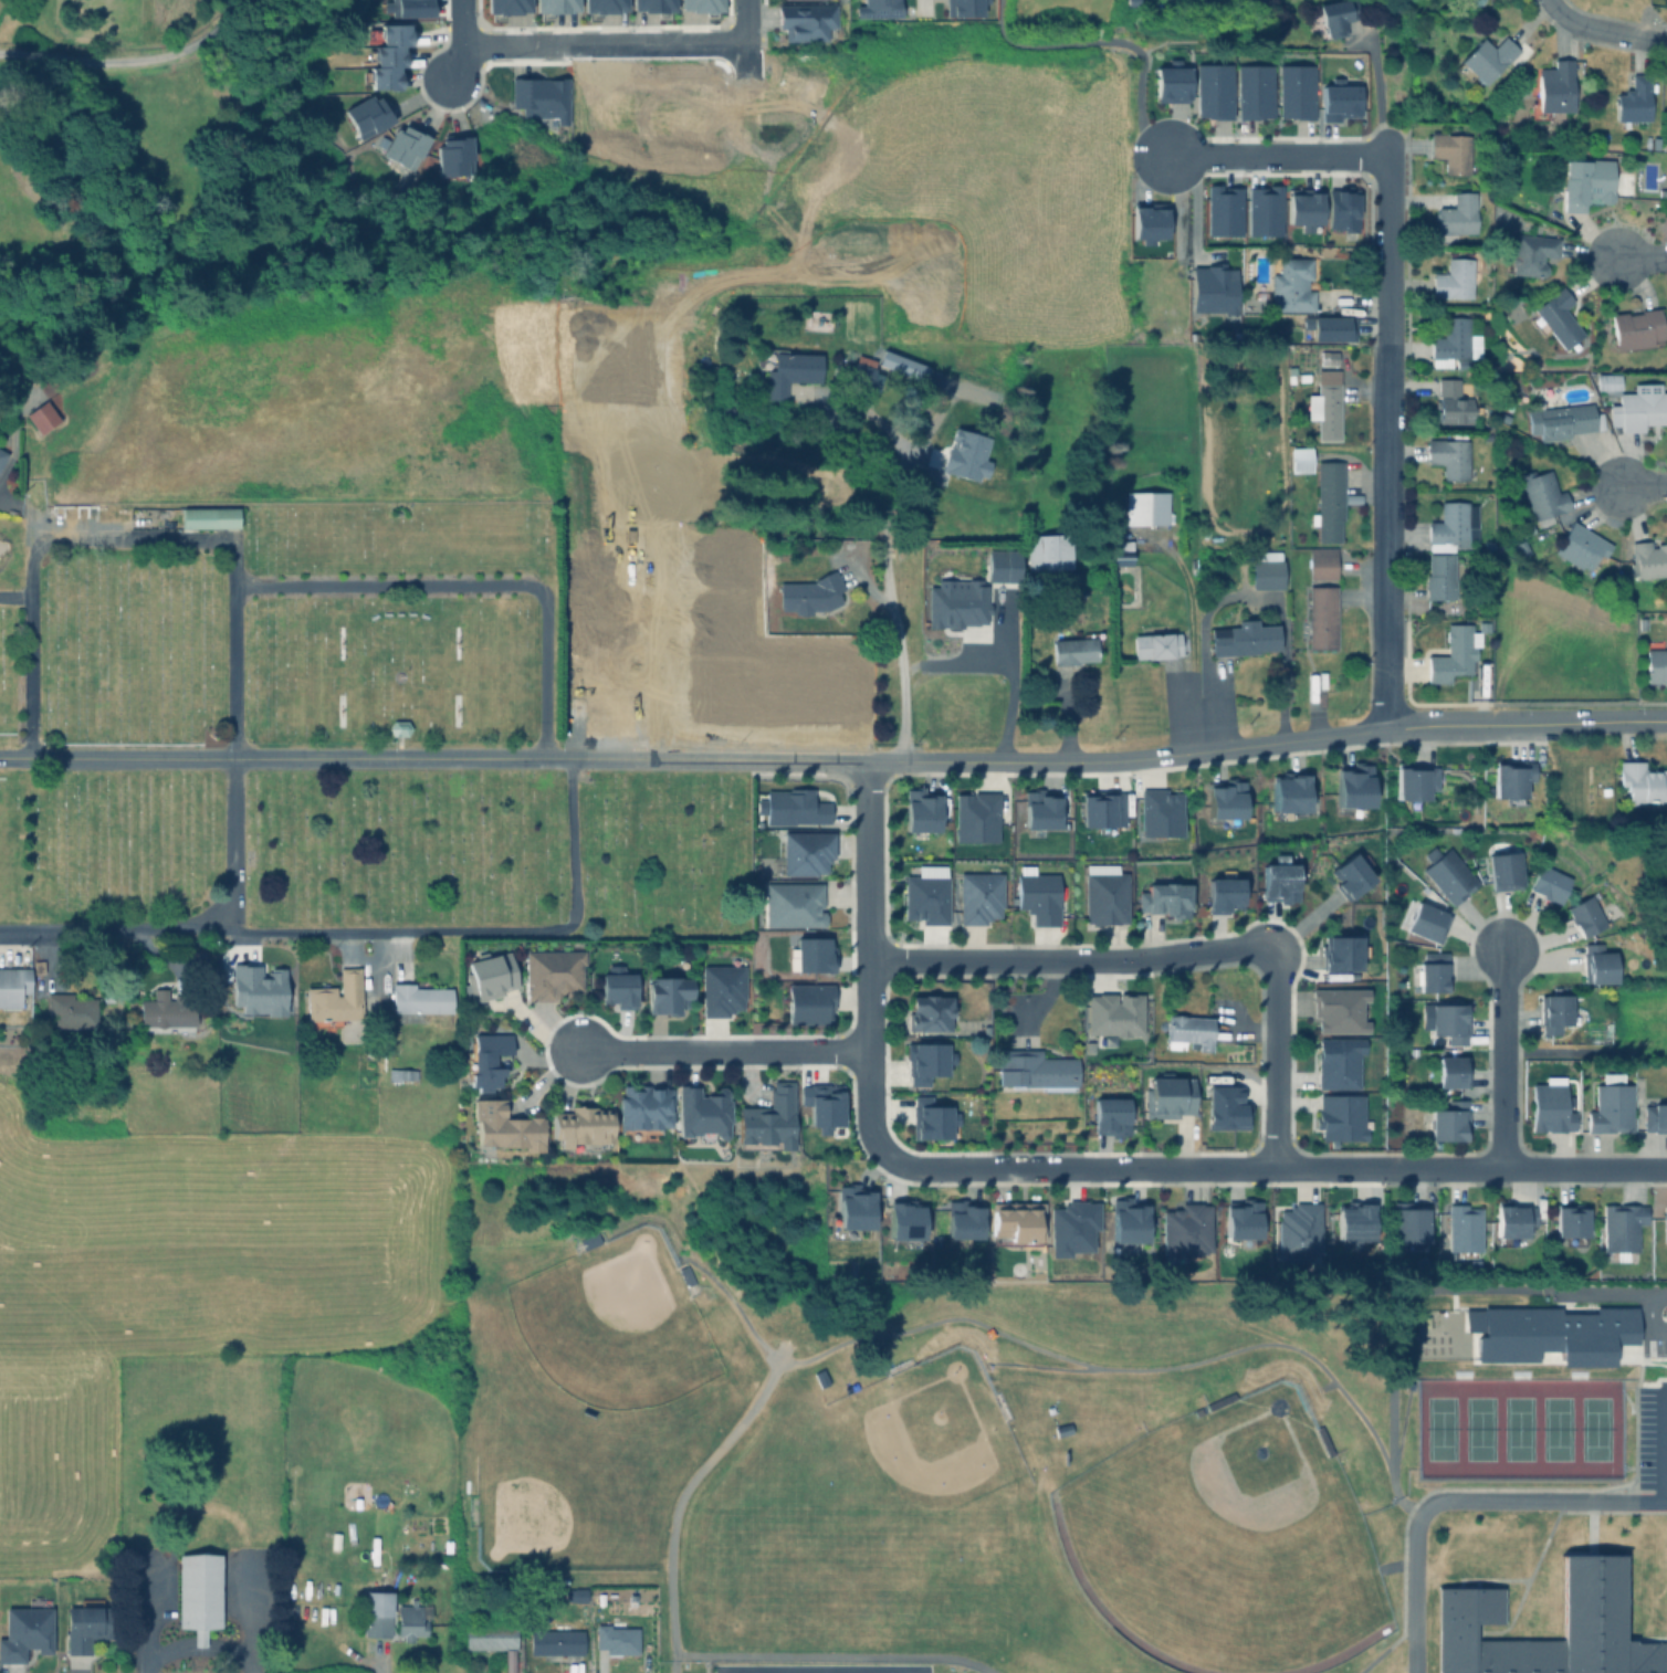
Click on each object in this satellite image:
building: (1131, 1)
road: (922, 2)
road: (1549, 3)
building: (506, 6)
building: (555, 6)
building: (604, 6)
building: (652, 6)
building: (700, 6)
building: (406, 8)
building: (877, 8)
building: (963, 8)
building: (1331, 15)
building: (804, 20)
road: (743, 21)
road: (1606, 31)
building: (397, 34)
road: (1110, 40)
road: (1165, 40)
road: (466, 41)
road: (605, 42)
building: (387, 55)
building: (1482, 57)
road: (134, 62)
building: (382, 76)
building: (1168, 81)
building: (1551, 87)
building: (1210, 90)
building: (1254, 91)
building: (1294, 91)
road: (1377, 95)
building: (538, 97)
building: (1632, 99)
building: (1339, 102)
building: (366, 116)
building: (403, 146)
building: (1451, 151)
building: (453, 156)
road: (1276, 157)
building: (1584, 181)
building: (1302, 206)
building: (1220, 209)
building: (1341, 210)
building: (1262, 211)
building: (1456, 212)
building: (1147, 219)
road: (1387, 251)
building: (1529, 253)
road: (1639, 256)
building: (1453, 278)
building: (1289, 284)
building: (1213, 287)
building: (1554, 316)
building: (1328, 327)
building: (1635, 327)
building: (1453, 343)
building: (1328, 357)
building: (858, 369)
building: (786, 370)
building: (1605, 380)
building: (1453, 401)
building: (1323, 403)
building: (1637, 407)
building: (43, 415)
building: (1559, 420)
building: (1448, 454)
building: (2, 455)
building: (967, 456)
building: (1298, 459)
road: (1643, 485)
road: (609, 487)
building: (1540, 495)
building: (1327, 499)
building: (1144, 507)
building: (210, 516)
building: (1450, 525)
building: (1523, 529)
road: (1386, 537)
road: (217, 540)
building: (1579, 545)
building: (1520, 546)
building: (1045, 550)
building: (1119, 550)
building: (1647, 558)
building: (1320, 561)
building: (1000, 562)
building: (1265, 569)
building: (1438, 576)
road: (471, 587)
building: (806, 592)
road: (14, 595)
road: (1251, 596)
building: (955, 600)
road: (891, 603)
building: (1451, 607)
building: (1320, 615)
road: (660, 625)
building: (1240, 638)
building: (1154, 644)
building: (1071, 649)
building: (1454, 650)
building: (1655, 661)
road: (1206, 693)
road: (1009, 697)
road: (1285, 697)
road: (1526, 725)
building: (400, 727)
park: (331, 735)
road: (693, 760)
building: (1510, 777)
building: (1643, 780)
building: (1414, 781)
building: (1353, 783)
building: (1287, 793)
building: (1224, 800)
building: (1037, 806)
building: (790, 807)
building: (1099, 808)
building: (920, 810)
building: (1157, 810)
building: (974, 813)
road: (572, 840)
building: (805, 848)
road: (866, 859)
building: (1659, 860)
building: (1503, 867)
building: (1350, 872)
building: (1448, 872)
building: (1277, 877)
building: (1548, 881)
building: (1220, 890)
building: (1104, 892)
building: (1036, 893)
building: (977, 894)
building: (924, 896)
building: (1163, 896)
building: (1661, 897)
building: (787, 902)
building: (1586, 912)
building: (1426, 919)
road: (302, 930)
road: (14, 932)
building: (1340, 949)
building: (811, 954)
road: (1066, 958)
building: (1596, 961)
building: (38, 965)
building: (1430, 970)
building: (551, 971)
building: (486, 974)
building: (13, 983)
building: (617, 987)
building: (720, 987)
building: (256, 989)
building: (667, 990)
building: (420, 996)
building: (336, 998)
building: (807, 1000)
road: (1273, 1006)
building: (1338, 1007)
building: (72, 1009)
building: (926, 1010)
building: (1553, 1010)
building: (168, 1011)
building: (1112, 1014)
building: (1446, 1017)
building: (1185, 1030)
road: (722, 1049)
road: (1503, 1055)
road: (866, 1056)
building: (486, 1058)
building: (923, 1059)
building: (1336, 1060)
building: (1032, 1067)
building: (1450, 1069)
building: (402, 1073)
building: (1167, 1093)
building: (819, 1103)
building: (1611, 1103)
building: (1550, 1104)
building: (1224, 1106)
building: (640, 1109)
building: (700, 1109)
building: (1110, 1114)
road: (1272, 1114)
building: (1339, 1115)
building: (1654, 1115)
building: (767, 1116)
building: (930, 1117)
building: (1447, 1119)
building: (501, 1123)
building: (579, 1125)
road: (1130, 1166)
road: (1524, 1167)
building: (852, 1207)
building: (1239, 1217)
building: (960, 1219)
building: (1569, 1219)
building: (1128, 1220)
building: (1015, 1221)
building: (1511, 1221)
building: (1664, 1221)
building: (904, 1222)
building: (1408, 1223)
building: (1070, 1225)
building: (1352, 1225)
building: (1462, 1225)
building: (1184, 1227)
building: (1621, 1229)
building: (1297, 1230)
building: (590, 1238)
building: (685, 1273)
road: (1610, 1293)
road: (1649, 1317)
park: (611, 1326)
building: (1549, 1334)
road: (1134, 1369)
building: (819, 1375)
building: (1219, 1399)
building: (1061, 1429)
park: (1516, 1429)
building: (1323, 1439)
parking lot: (1650, 1445)
road: (1663, 1445)
park: (918, 1453)
road: (713, 1454)
road: (1461, 1502)
park: (541, 1511)
park: (1220, 1543)
building: (200, 1590)
building: (574, 1592)
building: (1466, 1606)
building: (379, 1611)
building: (413, 1618)
building: (88, 1622)
building: (28, 1629)
building: (617, 1638)
building: (497, 1640)
building: (562, 1640)
road: (193, 1650)
road: (831, 1658)
building: (767, 1670)
building: (828, 1670)
building: (895, 1670)

